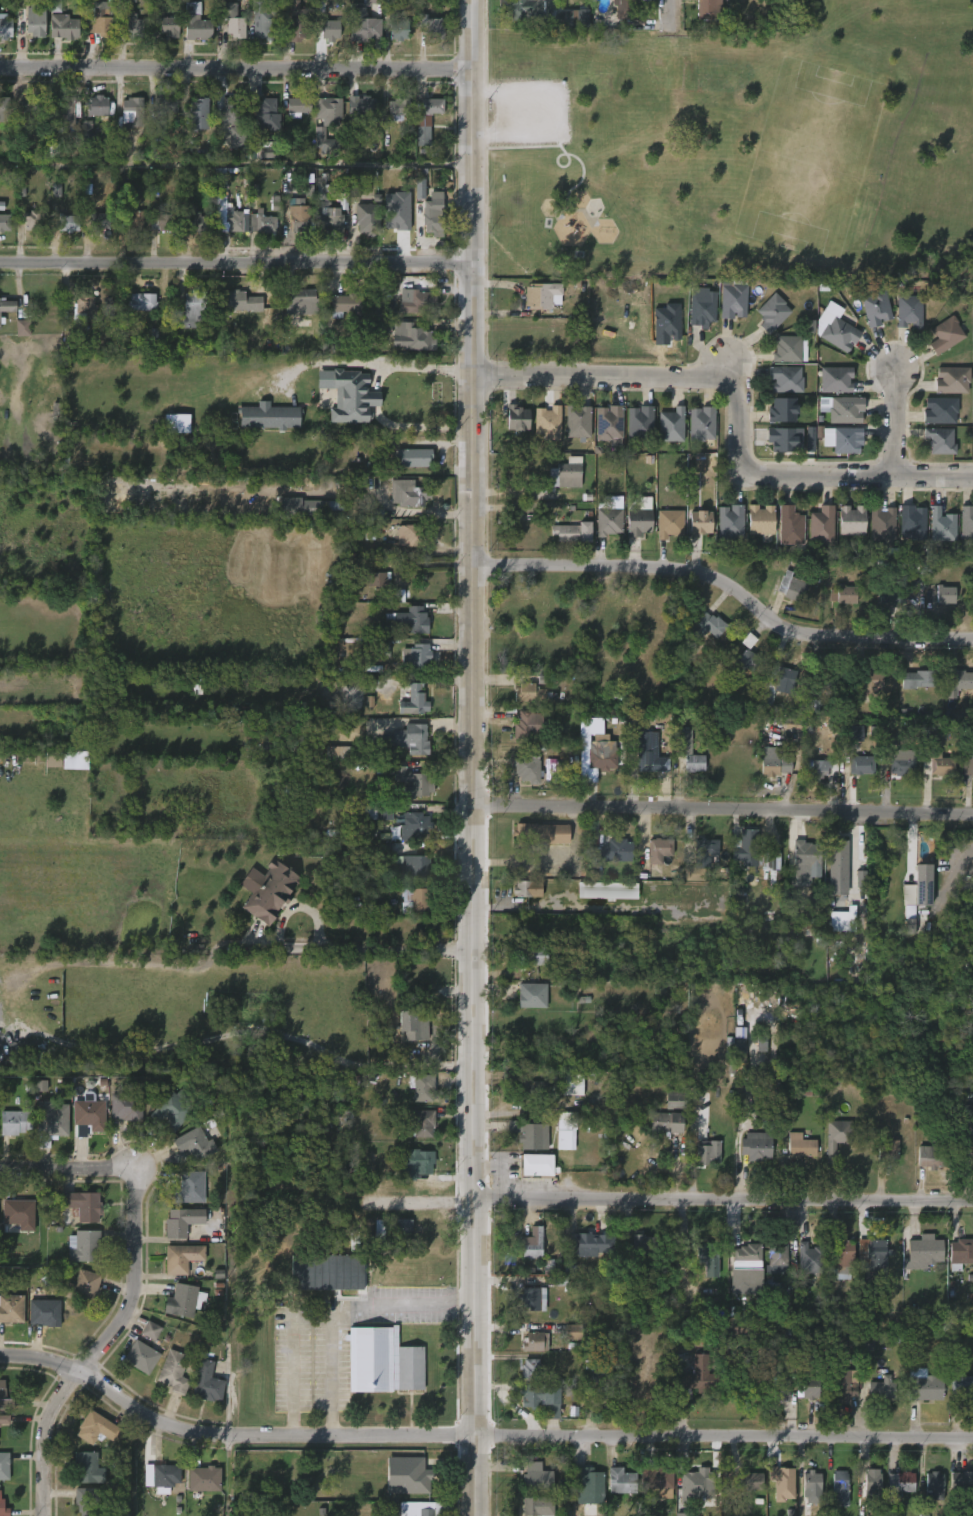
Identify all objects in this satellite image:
building: (55, 6)
building: (523, 9)
building: (623, 9)
building: (705, 9)
building: (566, 16)
building: (233, 19)
building: (36, 20)
building: (101, 21)
building: (265, 21)
building: (196, 22)
building: (366, 22)
building: (170, 25)
building: (433, 25)
building: (5, 26)
building: (64, 27)
building: (130, 27)
building: (300, 29)
building: (331, 29)
building: (399, 29)
road: (236, 70)
building: (32, 103)
building: (432, 105)
building: (99, 106)
building: (298, 106)
building: (399, 106)
building: (365, 107)
building: (4, 108)
building: (328, 110)
building: (132, 112)
building: (67, 113)
building: (161, 114)
building: (200, 114)
building: (267, 115)
building: (233, 119)
building: (423, 130)
building: (323, 140)
park: (741, 147)
building: (53, 150)
building: (271, 152)
building: (419, 190)
building: (328, 210)
building: (397, 211)
building: (435, 216)
building: (299, 217)
building: (368, 218)
building: (4, 220)
building: (32, 220)
building: (99, 220)
building: (135, 220)
building: (235, 221)
building: (68, 222)
building: (199, 222)
building: (262, 222)
building: (164, 223)
road: (237, 264)
building: (544, 295)
building: (735, 299)
building: (243, 301)
building: (301, 301)
building: (142, 302)
building: (419, 302)
building: (7, 305)
building: (86, 305)
building: (346, 305)
building: (876, 308)
building: (701, 309)
building: (191, 310)
building: (909, 312)
building: (772, 313)
building: (0, 324)
building: (22, 328)
building: (837, 332)
building: (946, 335)
building: (413, 336)
building: (972, 340)
building: (791, 349)
road: (415, 369)
building: (783, 379)
building: (837, 379)
building: (950, 379)
building: (349, 395)
road: (374, 398)
road: (737, 409)
building: (780, 409)
building: (847, 409)
building: (938, 409)
building: (269, 416)
building: (516, 417)
building: (547, 420)
building: (577, 421)
building: (607, 421)
building: (638, 422)
building: (701, 423)
road: (892, 423)
road: (418, 425)
building: (669, 425)
building: (784, 439)
building: (847, 440)
building: (942, 440)
building: (413, 457)
building: (699, 465)
building: (565, 473)
building: (406, 493)
building: (320, 505)
building: (758, 519)
building: (849, 519)
building: (607, 521)
building: (636, 521)
building: (729, 521)
building: (911, 521)
building: (699, 522)
building: (966, 522)
building: (669, 523)
building: (880, 523)
building: (941, 524)
building: (821, 525)
building: (789, 526)
building: (569, 532)
building: (411, 535)
building: (372, 580)
road: (728, 586)
building: (793, 587)
building: (894, 594)
building: (845, 595)
building: (947, 595)
building: (413, 619)
building: (710, 624)
building: (380, 647)
building: (417, 658)
building: (747, 661)
building: (920, 679)
building: (776, 683)
building: (869, 683)
building: (956, 683)
building: (823, 687)
building: (531, 693)
building: (415, 700)
building: (304, 709)
building: (525, 725)
building: (853, 733)
building: (409, 739)
building: (338, 753)
building: (688, 753)
building: (647, 754)
road: (475, 757)
building: (599, 759)
building: (77, 760)
building: (775, 762)
building: (903, 762)
building: (863, 765)
building: (939, 765)
building: (967, 765)
building: (818, 768)
building: (524, 769)
building: (551, 769)
building: (413, 782)
building: (275, 791)
road: (724, 808)
building: (378, 813)
building: (416, 824)
building: (542, 833)
building: (660, 848)
building: (618, 849)
building: (748, 849)
building: (806, 856)
building: (702, 857)
building: (838, 867)
building: (413, 868)
building: (861, 879)
building: (528, 889)
building: (607, 890)
building: (918, 890)
building: (274, 893)
building: (416, 898)
building: (843, 920)
building: (910, 926)
road: (361, 948)
building: (529, 957)
building: (965, 963)
building: (531, 994)
building: (411, 1024)
building: (761, 1043)
building: (739, 1050)
building: (572, 1085)
building: (41, 1086)
building: (423, 1086)
building: (537, 1088)
building: (675, 1099)
building: (125, 1104)
building: (173, 1110)
building: (90, 1114)
building: (51, 1118)
building: (15, 1122)
building: (420, 1122)
building: (664, 1123)
building: (566, 1131)
building: (837, 1134)
building: (529, 1135)
building: (196, 1144)
building: (755, 1146)
building: (799, 1146)
building: (707, 1150)
building: (887, 1151)
building: (932, 1157)
building: (416, 1164)
building: (537, 1166)
road: (58, 1169)
building: (190, 1188)
road: (724, 1199)
road: (420, 1202)
building: (82, 1205)
building: (18, 1215)
building: (182, 1221)
building: (374, 1229)
building: (403, 1230)
building: (532, 1243)
building: (582, 1243)
building: (642, 1245)
building: (83, 1246)
building: (961, 1251)
building: (925, 1252)
building: (843, 1254)
building: (811, 1257)
building: (183, 1258)
building: (707, 1258)
building: (776, 1258)
building: (869, 1258)
building: (744, 1266)
building: (355, 1273)
building: (83, 1287)
building: (533, 1297)
building: (184, 1300)
building: (12, 1308)
building: (45, 1313)
road: (346, 1313)
building: (151, 1330)
building: (573, 1333)
road: (107, 1341)
building: (536, 1341)
road: (291, 1356)
building: (808, 1356)
building: (142, 1357)
building: (779, 1359)
building: (383, 1361)
building: (531, 1369)
building: (174, 1371)
building: (597, 1378)
building: (693, 1379)
building: (207, 1382)
building: (923, 1385)
building: (780, 1386)
building: (811, 1386)
building: (843, 1386)
building: (960, 1387)
building: (882, 1390)
building: (572, 1391)
building: (4, 1396)
building: (543, 1399)
building: (5, 1419)
building: (97, 1428)
road: (477, 1436)
building: (4, 1466)
building: (88, 1469)
building: (165, 1476)
building: (419, 1476)
building: (535, 1477)
building: (205, 1479)
building: (750, 1480)
building: (620, 1481)
building: (811, 1481)
building: (905, 1481)
building: (657, 1482)
building: (961, 1482)
building: (588, 1484)
building: (872, 1484)
building: (778, 1485)
building: (933, 1485)
building: (839, 1486)
building: (704, 1487)
building: (90, 1500)
building: (537, 1506)
building: (416, 1508)
building: (3, 1509)
building: (684, 1514)

